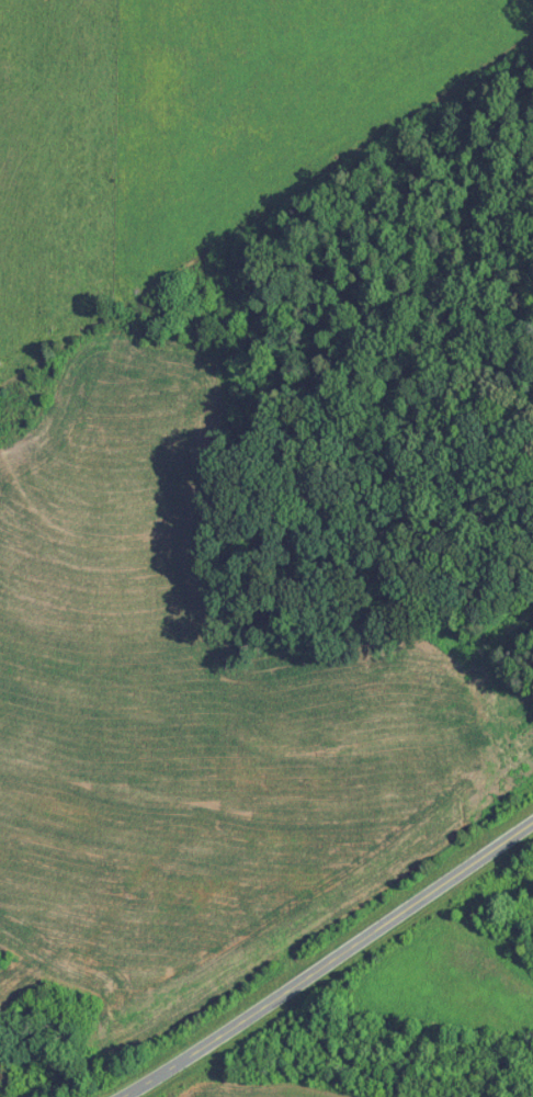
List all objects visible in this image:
road: (329, 962)

